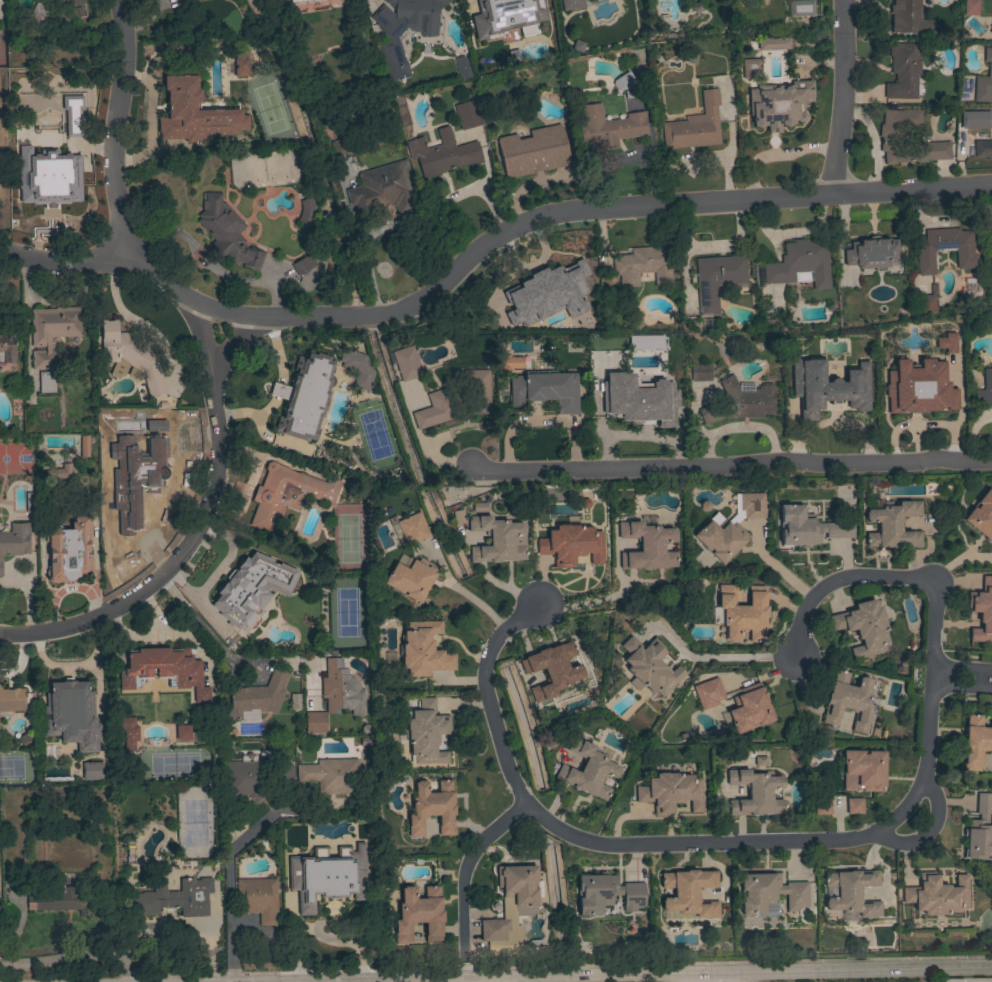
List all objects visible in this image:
building: (280, 1)
building: (301, 1)
building: (572, 4)
building: (970, 7)
building: (74, 8)
building: (492, 9)
building: (0, 13)
building: (36, 15)
building: (908, 18)
building: (390, 42)
building: (773, 43)
building: (240, 66)
building: (463, 67)
building: (749, 69)
building: (903, 71)
building: (984, 80)
building: (624, 82)
road: (843, 97)
building: (779, 104)
building: (193, 110)
building: (468, 115)
building: (401, 117)
building: (71, 118)
building: (695, 126)
building: (609, 127)
building: (25, 136)
building: (890, 139)
road: (112, 145)
building: (337, 147)
building: (983, 149)
building: (532, 153)
building: (442, 154)
building: (46, 168)
building: (0, 188)
building: (381, 190)
road: (663, 204)
building: (306, 211)
building: (226, 232)
building: (991, 236)
building: (945, 250)
building: (872, 253)
road: (212, 264)
building: (800, 264)
building: (303, 265)
building: (643, 266)
building: (716, 279)
building: (564, 285)
road: (180, 293)
building: (928, 301)
road: (137, 323)
building: (51, 339)
building: (644, 343)
building: (6, 350)
building: (129, 357)
building: (672, 359)
road: (221, 362)
building: (406, 363)
building: (508, 363)
building: (357, 368)
building: (701, 372)
building: (948, 374)
building: (827, 387)
building: (546, 390)
building: (985, 390)
building: (304, 397)
building: (639, 399)
building: (456, 401)
building: (741, 402)
building: (154, 417)
building: (160, 441)
building: (84, 446)
road: (731, 466)
building: (61, 471)
building: (287, 494)
building: (134, 501)
building: (30, 504)
building: (479, 507)
road: (200, 510)
building: (981, 516)
building: (458, 521)
building: (893, 526)
building: (413, 527)
building: (729, 527)
building: (808, 528)
building: (498, 540)
building: (14, 541)
building: (571, 545)
building: (646, 547)
building: (70, 550)
building: (411, 578)
building: (250, 587)
road: (461, 594)
building: (679, 599)
road: (585, 603)
building: (982, 610)
building: (743, 613)
building: (863, 628)
road: (221, 647)
building: (423, 650)
road: (718, 656)
building: (649, 667)
road: (962, 667)
building: (164, 670)
building: (551, 670)
road: (961, 687)
building: (341, 689)
building: (708, 693)
building: (257, 697)
building: (12, 700)
building: (66, 701)
building: (294, 702)
building: (848, 702)
building: (749, 709)
building: (315, 723)
building: (129, 732)
building: (182, 732)
building: (427, 733)
building: (975, 742)
building: (759, 762)
building: (865, 769)
building: (587, 770)
building: (90, 772)
building: (285, 773)
building: (331, 775)
building: (246, 779)
building: (670, 792)
building: (755, 793)
building: (822, 806)
building: (854, 806)
building: (432, 809)
building: (979, 831)
road: (928, 834)
road: (811, 843)
building: (328, 857)
road: (466, 871)
road: (218, 881)
building: (852, 892)
building: (606, 893)
building: (689, 893)
building: (769, 893)
building: (937, 895)
building: (170, 899)
building: (257, 899)
building: (64, 902)
building: (512, 906)
building: (418, 915)
road: (75, 957)
road: (465, 971)
road: (864, 972)
road: (712, 975)
road: (599, 977)
road: (689, 978)
road: (487, 979)
road: (419, 981)
road: (465, 981)

